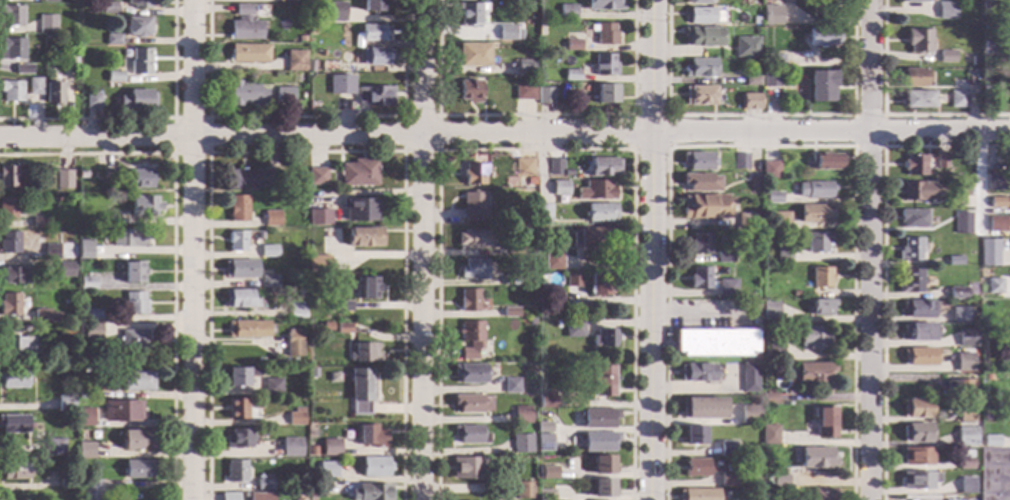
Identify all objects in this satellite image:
building: (285, 0)
building: (555, 0)
building: (50, 1)
building: (917, 1)
building: (699, 2)
building: (827, 2)
building: (139, 4)
building: (373, 5)
building: (605, 5)
building: (108, 8)
building: (946, 10)
building: (335, 11)
building: (567, 12)
building: (469, 13)
building: (11, 15)
building: (700, 15)
building: (772, 15)
building: (1007, 20)
building: (47, 23)
building: (244, 24)
building: (138, 27)
building: (539, 30)
building: (372, 33)
building: (505, 33)
building: (604, 33)
building: (518, 34)
building: (702, 36)
building: (46, 37)
building: (822, 37)
building: (113, 39)
building: (919, 40)
building: (573, 45)
building: (746, 47)
building: (991, 48)
building: (12, 49)
building: (247, 53)
building: (473, 55)
building: (374, 56)
building: (947, 56)
building: (69, 60)
building: (774, 60)
building: (974, 60)
building: (140, 61)
building: (294, 61)
building: (328, 65)
building: (605, 65)
road: (869, 66)
building: (525, 68)
building: (699, 68)
building: (23, 69)
building: (571, 75)
building: (114, 76)
building: (987, 77)
building: (770, 78)
building: (913, 78)
building: (751, 81)
building: (340, 85)
building: (35, 86)
building: (822, 86)
building: (11, 91)
building: (469, 91)
building: (524, 91)
building: (556, 92)
building: (54, 93)
building: (245, 93)
building: (606, 93)
building: (283, 95)
building: (699, 95)
building: (375, 96)
building: (544, 96)
building: (1009, 97)
building: (136, 99)
building: (918, 99)
building: (958, 99)
building: (93, 100)
building: (750, 101)
road: (534, 115)
road: (666, 115)
road: (761, 115)
road: (438, 116)
road: (883, 116)
road: (888, 116)
road: (304, 117)
road: (208, 118)
road: (145, 119)
road: (939, 134)
road: (434, 135)
road: (761, 147)
road: (536, 150)
road: (306, 152)
building: (696, 161)
building: (739, 161)
building: (827, 161)
building: (941, 161)
building: (914, 165)
building: (523, 167)
building: (555, 167)
building: (602, 167)
building: (769, 170)
building: (566, 172)
building: (358, 173)
building: (82, 174)
building: (473, 174)
building: (7, 176)
building: (317, 176)
building: (140, 178)
building: (252, 178)
building: (64, 180)
building: (530, 181)
building: (700, 182)
building: (753, 182)
building: (994, 182)
building: (20, 185)
building: (49, 185)
road: (979, 185)
building: (559, 188)
building: (960, 188)
building: (595, 190)
building: (815, 190)
building: (918, 191)
building: (774, 197)
building: (299, 198)
building: (997, 202)
building: (98, 203)
building: (143, 206)
building: (704, 206)
building: (472, 207)
building: (7, 208)
building: (237, 208)
building: (359, 210)
building: (600, 212)
building: (542, 214)
building: (816, 214)
building: (954, 214)
building: (530, 215)
building: (318, 217)
building: (271, 218)
building: (914, 218)
building: (105, 219)
building: (780, 220)
building: (745, 221)
building: (39, 222)
building: (962, 223)
building: (997, 224)
building: (540, 233)
building: (331, 236)
building: (363, 237)
building: (127, 238)
building: (475, 239)
building: (593, 239)
road: (172, 240)
building: (236, 241)
building: (818, 242)
building: (9, 243)
building: (698, 243)
building: (513, 248)
building: (85, 249)
road: (192, 250)
road: (421, 250)
road: (651, 250)
building: (911, 250)
building: (51, 251)
building: (267, 251)
building: (989, 253)
building: (783, 254)
building: (1009, 254)
building: (723, 257)
building: (553, 260)
road: (883, 260)
building: (955, 261)
building: (315, 264)
building: (65, 269)
building: (239, 269)
building: (473, 269)
building: (133, 272)
building: (16, 275)
building: (821, 277)
building: (699, 278)
building: (509, 280)
building: (572, 280)
building: (911, 281)
building: (268, 282)
building: (332, 282)
building: (86, 283)
building: (599, 283)
building: (994, 286)
building: (367, 288)
building: (726, 288)
building: (286, 292)
building: (290, 292)
building: (795, 293)
building: (957, 293)
building: (295, 297)
building: (239, 298)
building: (469, 300)
building: (134, 303)
building: (9, 304)
building: (261, 305)
building: (342, 306)
building: (820, 307)
building: (919, 309)
building: (295, 310)
building: (509, 311)
building: (770, 311)
building: (543, 313)
building: (45, 315)
building: (91, 315)
road: (703, 315)
building: (962, 315)
road: (869, 317)
building: (531, 322)
building: (69, 326)
building: (326, 326)
building: (78, 327)
building: (342, 328)
building: (573, 328)
building: (246, 330)
building: (92, 331)
building: (919, 332)
building: (603, 337)
building: (813, 337)
building: (966, 338)
building: (470, 339)
building: (133, 340)
building: (292, 343)
building: (714, 343)
building: (18, 349)
building: (774, 352)
building: (363, 353)
building: (919, 356)
building: (259, 360)
building: (964, 363)
building: (1004, 364)
building: (298, 372)
building: (814, 372)
building: (469, 373)
building: (696, 373)
building: (240, 376)
building: (748, 377)
building: (12, 379)
building: (136, 381)
building: (602, 381)
building: (511, 385)
building: (271, 386)
building: (959, 388)
building: (85, 390)
building: (359, 392)
building: (768, 397)
building: (277, 400)
building: (300, 400)
building: (547, 400)
building: (65, 403)
building: (467, 403)
building: (702, 408)
building: (915, 408)
building: (236, 409)
building: (121, 411)
building: (745, 414)
building: (522, 415)
building: (962, 415)
building: (84, 417)
building: (294, 417)
building: (599, 418)
building: (984, 418)
building: (824, 421)
building: (13, 424)
building: (543, 427)
building: (916, 432)
building: (469, 435)
building: (693, 435)
building: (769, 435)
building: (370, 436)
building: (238, 439)
building: (136, 440)
building: (544, 440)
building: (965, 440)
building: (599, 441)
building: (990, 441)
building: (521, 444)
building: (54, 447)
building: (290, 447)
building: (329, 447)
building: (728, 449)
building: (85, 451)
building: (311, 451)
building: (916, 456)
building: (816, 458)
building: (965, 460)
building: (603, 465)
building: (374, 467)
building: (469, 468)
building: (138, 469)
building: (13, 470)
building: (326, 470)
building: (235, 471)
building: (708, 471)
building: (549, 472)
building: (994, 474)
building: (66, 480)
building: (780, 480)
building: (767, 481)
building: (916, 481)
building: (262, 484)
building: (966, 486)
building: (602, 488)
building: (89, 490)
building: (524, 490)
building: (370, 492)
building: (698, 494)
building: (823, 494)
building: (545, 495)
building: (228, 496)
building: (267, 496)
building: (309, 497)
building: (297, 499)

